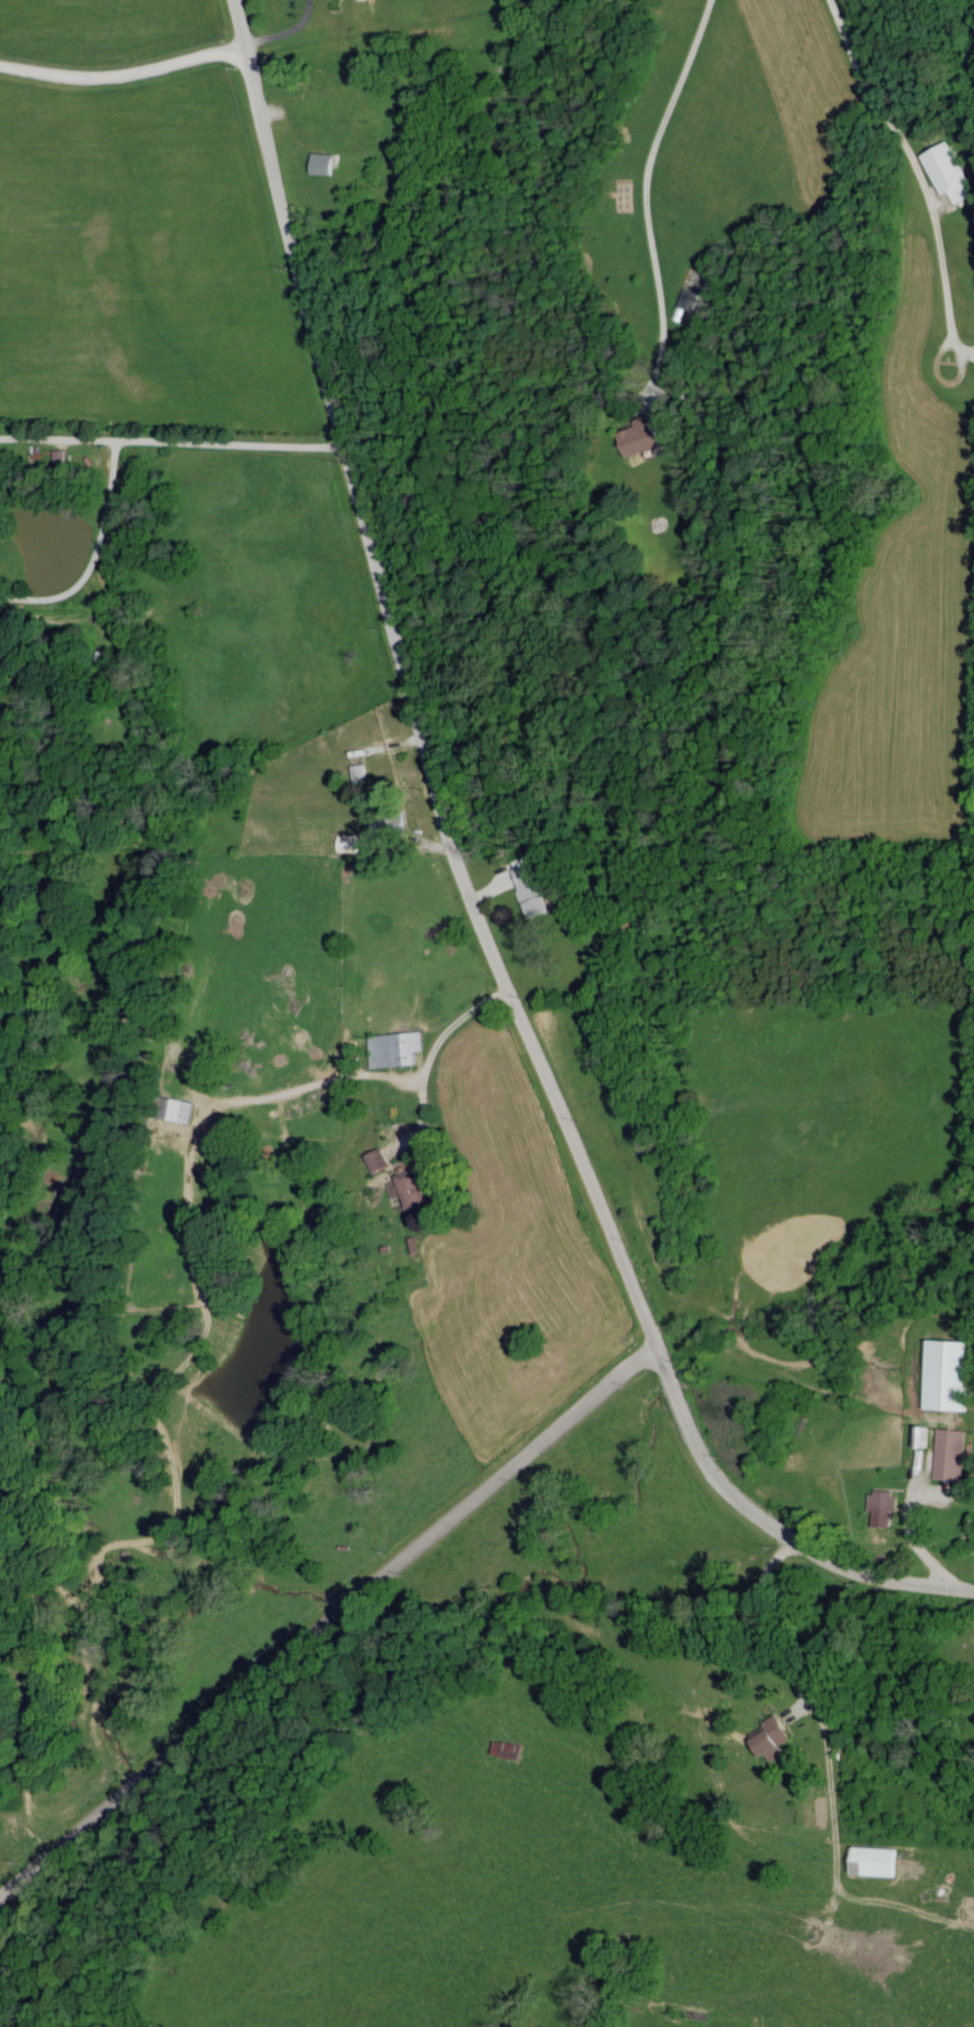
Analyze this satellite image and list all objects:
road: (123, 67)
building: (323, 162)
road: (912, 163)
building: (946, 171)
building: (689, 307)
building: (641, 437)
road: (173, 440)
road: (97, 554)
building: (358, 774)
road: (442, 782)
building: (381, 827)
building: (528, 890)
building: (395, 1049)
building: (408, 1189)
building: (948, 1374)
building: (947, 1454)
building: (881, 1502)
road: (863, 1572)
road: (328, 1623)
road: (759, 1625)
building: (772, 1735)
building: (507, 1748)
building: (876, 1861)

